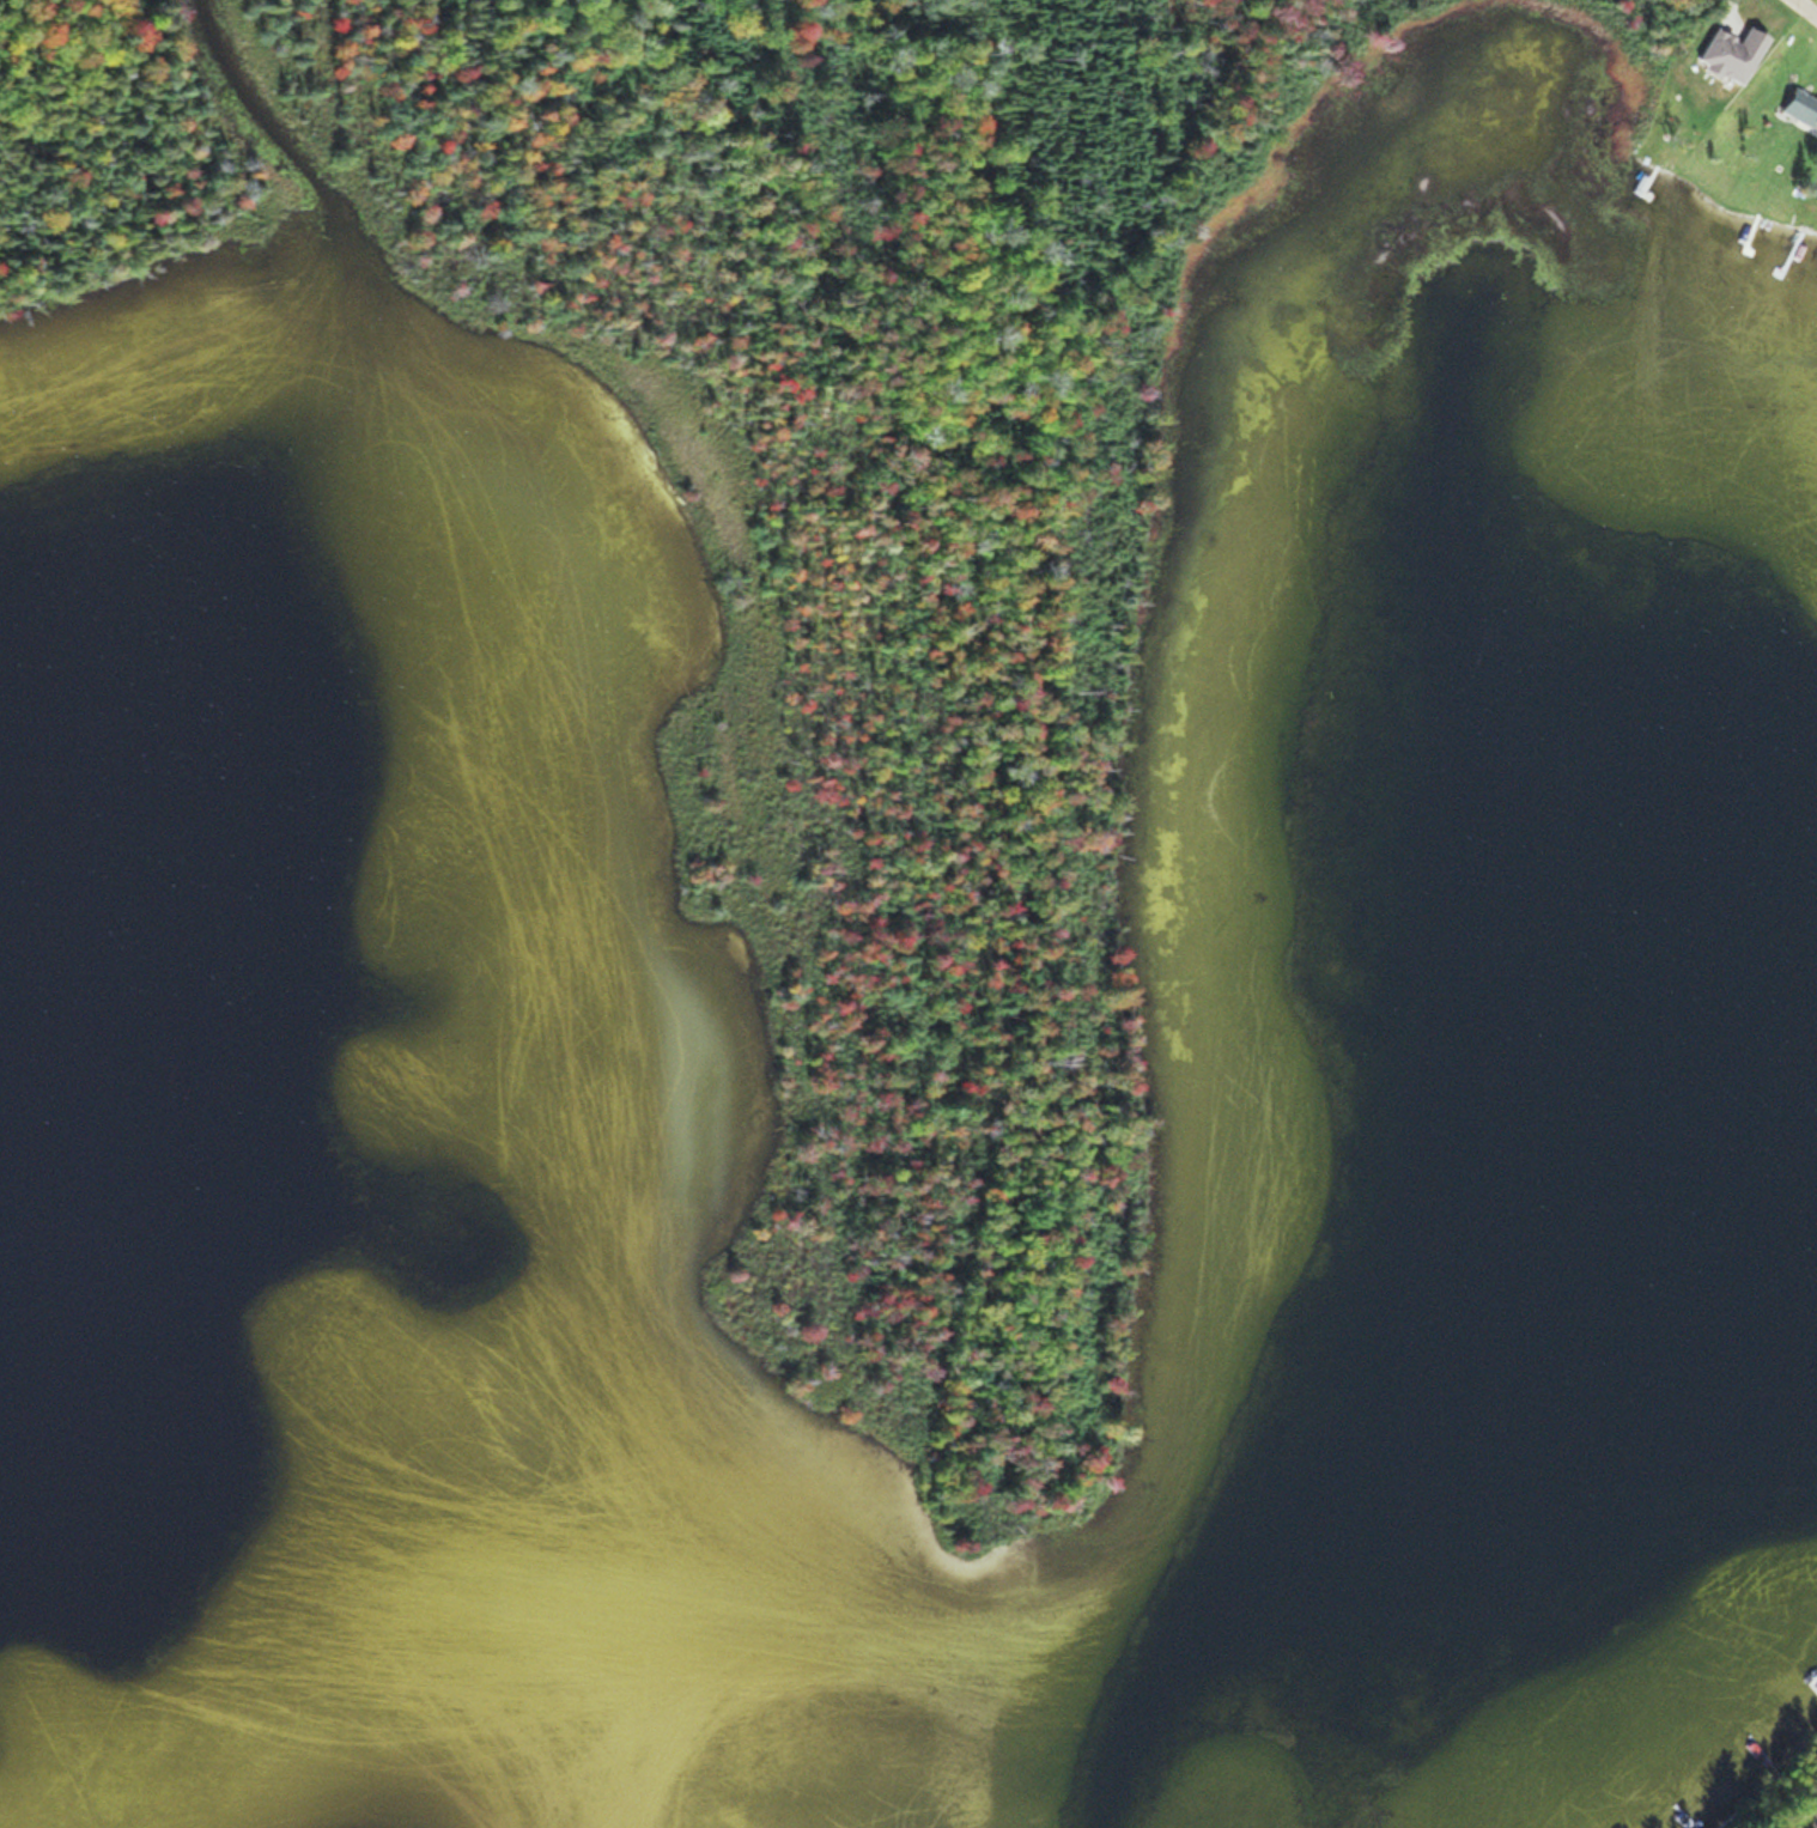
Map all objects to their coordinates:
road: (1812, 2)
building: (1725, 51)
building: (1798, 107)
building: (1800, 1827)

